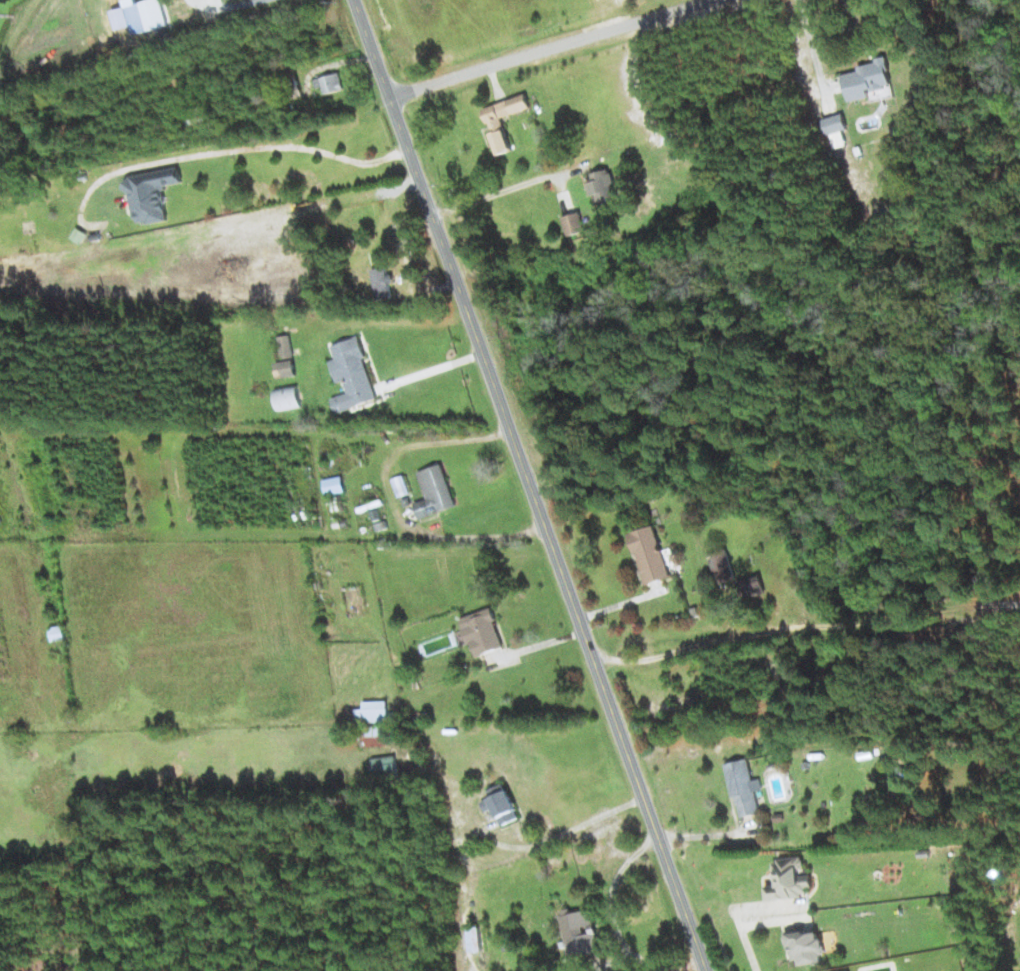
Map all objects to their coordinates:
building: (141, 16)
road: (548, 46)
building: (867, 79)
building: (330, 83)
building: (496, 124)
building: (836, 130)
road: (237, 149)
building: (601, 185)
building: (151, 194)
road: (492, 195)
building: (572, 223)
building: (381, 283)
building: (285, 346)
building: (285, 369)
building: (351, 375)
building: (287, 397)
building: (334, 485)
road: (529, 485)
building: (401, 486)
building: (434, 492)
building: (649, 555)
building: (721, 565)
building: (751, 585)
building: (482, 631)
building: (56, 633)
building: (372, 712)
building: (374, 736)
building: (384, 765)
building: (744, 788)
building: (502, 804)
road: (565, 833)
building: (789, 880)
road: (609, 905)
building: (579, 934)
building: (474, 939)
building: (806, 947)
road: (684, 965)

